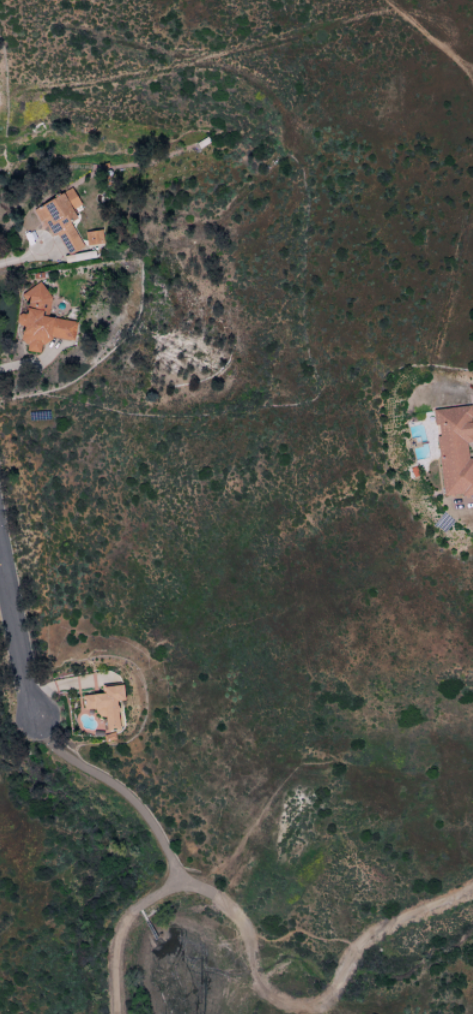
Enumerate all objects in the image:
road: (421, 31)
road: (465, 66)
road: (465, 73)
building: (59, 218)
building: (92, 237)
road: (22, 258)
building: (40, 320)
building: (453, 449)
road: (16, 635)
building: (104, 704)
road: (116, 788)
road: (261, 959)

